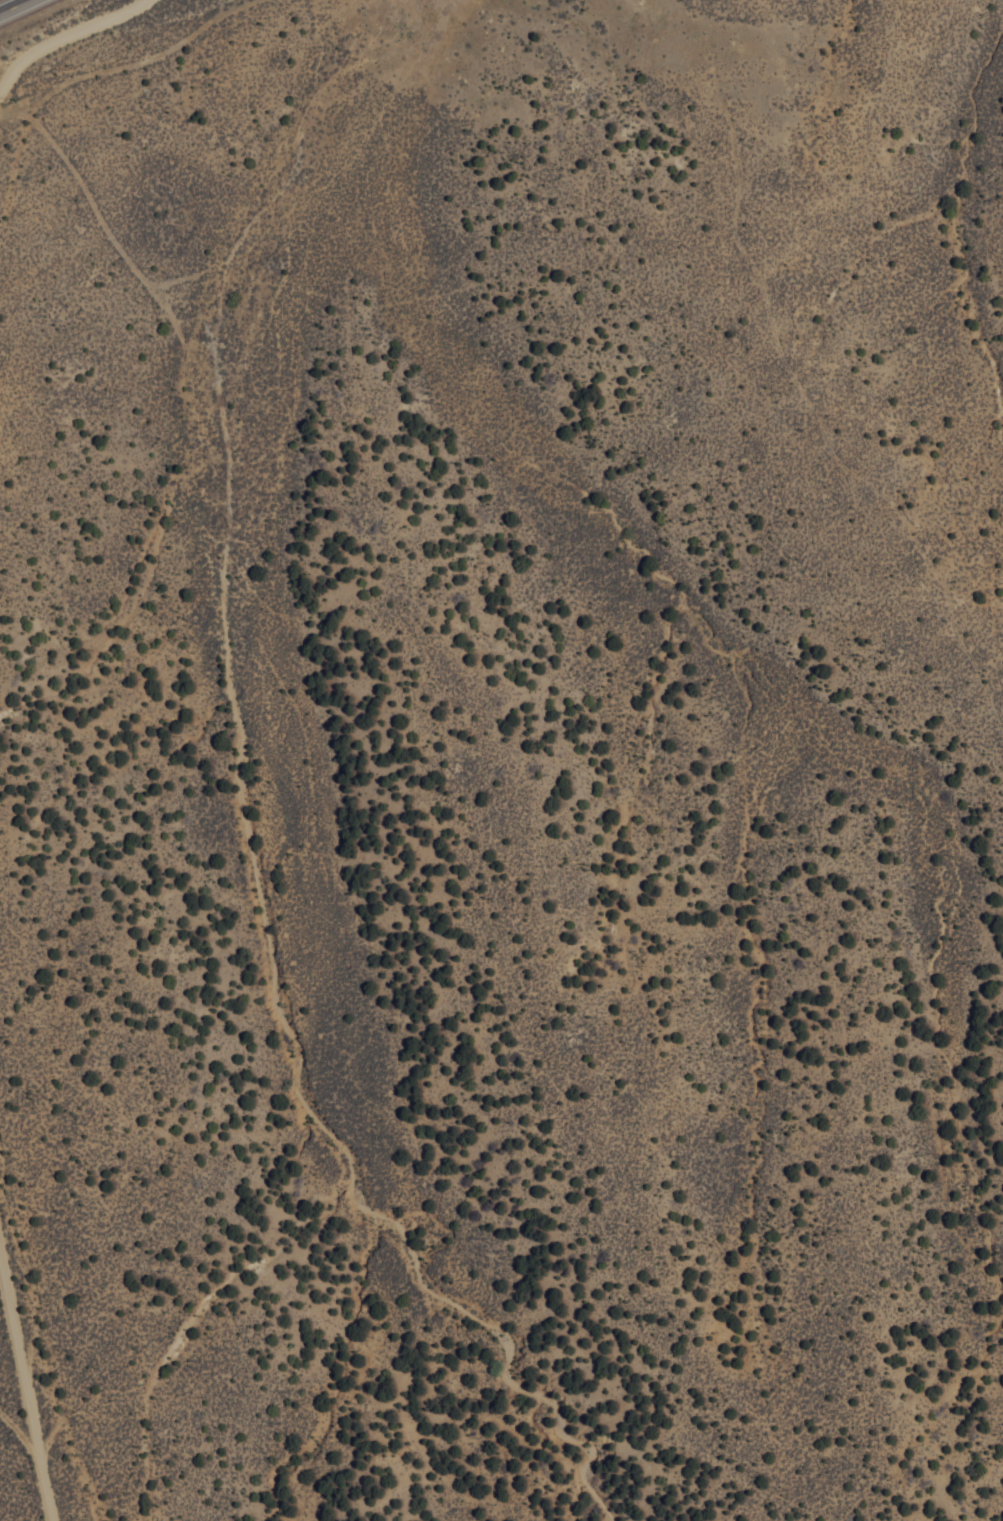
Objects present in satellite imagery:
road: (12, 5)
road: (67, 34)
road: (25, 1381)

